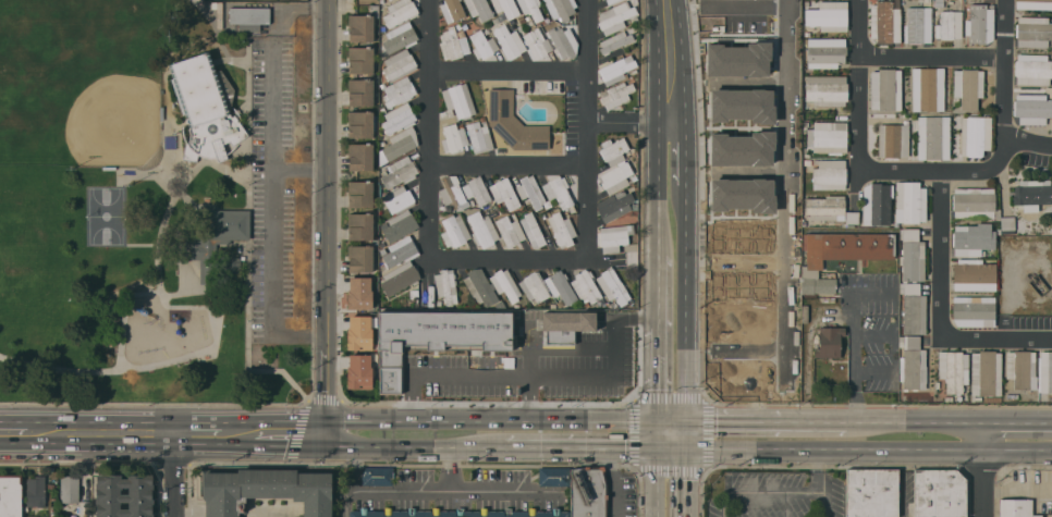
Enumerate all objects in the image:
building: (389, 0)
building: (611, 1)
building: (1033, 3)
road: (264, 4)
building: (505, 7)
building: (531, 8)
building: (561, 8)
building: (479, 9)
building: (451, 10)
building: (400, 11)
building: (828, 15)
building: (249, 16)
building: (615, 16)
building: (885, 22)
building: (980, 23)
building: (363, 24)
building: (918, 25)
building: (949, 25)
building: (1032, 30)
road: (670, 34)
building: (400, 37)
building: (509, 41)
building: (563, 41)
building: (614, 41)
building: (452, 44)
building: (536, 44)
building: (482, 45)
building: (1051, 47)
building: (825, 51)
building: (360, 60)
road: (931, 61)
building: (399, 64)
road: (509, 67)
building: (615, 69)
building: (1032, 69)
road: (1008, 71)
building: (968, 86)
building: (885, 88)
building: (927, 88)
building: (825, 89)
building: (397, 90)
building: (360, 91)
building: (615, 94)
road: (672, 97)
building: (457, 100)
road: (854, 103)
building: (206, 107)
building: (1031, 108)
building: (399, 118)
building: (514, 123)
building: (362, 124)
road: (629, 124)
road: (428, 131)
building: (479, 135)
building: (975, 135)
building: (830, 136)
building: (454, 137)
building: (933, 137)
building: (893, 139)
building: (400, 143)
building: (613, 150)
road: (685, 151)
building: (359, 156)
road: (507, 161)
building: (400, 171)
road: (959, 172)
road: (326, 173)
building: (744, 173)
building: (829, 174)
building: (616, 176)
road: (659, 187)
building: (476, 189)
road: (787, 189)
building: (558, 190)
building: (451, 192)
building: (531, 192)
building: (504, 193)
building: (359, 194)
building: (1029, 194)
building: (399, 197)
road: (586, 201)
building: (909, 201)
building: (974, 202)
road: (268, 204)
building: (877, 204)
building: (614, 205)
building: (825, 207)
building: (852, 218)
building: (739, 219)
building: (399, 224)
building: (1007, 224)
building: (359, 226)
building: (482, 229)
building: (562, 229)
building: (533, 230)
building: (454, 231)
building: (509, 231)
building: (217, 236)
building: (615, 237)
building: (973, 238)
building: (400, 250)
building: (840, 255)
building: (912, 255)
building: (359, 258)
building: (232, 269)
building: (974, 274)
building: (400, 276)
petroleum well: (1036, 281)
building: (505, 284)
building: (447, 285)
road: (659, 285)
building: (479, 286)
building: (534, 286)
building: (560, 286)
building: (613, 286)
building: (585, 287)
building: (738, 292)
building: (358, 293)
road: (684, 301)
building: (913, 307)
building: (974, 310)
road: (940, 311)
road: (648, 316)
road: (527, 318)
building: (566, 323)
road: (578, 323)
building: (358, 331)
road: (852, 338)
building: (829, 342)
building: (431, 343)
building: (565, 346)
building: (511, 354)
road: (617, 361)
building: (912, 362)
road: (658, 368)
building: (589, 369)
building: (953, 369)
building: (1022, 369)
building: (358, 371)
building: (1045, 372)
building: (986, 374)
road: (546, 382)
road: (465, 383)
road: (326, 390)
road: (400, 407)
road: (526, 408)
road: (501, 419)
traffic signals: (658, 420)
road: (670, 420)
traffic signals: (683, 420)
road: (731, 421)
road: (816, 422)
road: (918, 422)
road: (1018, 422)
road: (335, 426)
road: (13, 431)
road: (291, 432)
road: (105, 433)
road: (240, 433)
road: (203, 434)
road: (658, 434)
road: (683, 434)
road: (986, 436)
road: (337, 440)
road: (426, 447)
road: (580, 448)
traffic signals: (658, 448)
road: (670, 448)
traffic signals: (683, 448)
road: (833, 450)
road: (1018, 451)
road: (449, 469)
road: (821, 471)
road: (182, 476)
building: (377, 476)
building: (553, 477)
road: (615, 482)
road: (658, 482)
road: (683, 482)
road: (986, 483)
building: (69, 488)
building: (265, 490)
building: (35, 491)
road: (454, 491)
building: (588, 492)
building: (872, 493)
building: (939, 493)
building: (11, 495)
building: (124, 495)
road: (344, 503)
road: (821, 505)
building: (1015, 507)
building: (457, 513)
building: (1038, 515)

